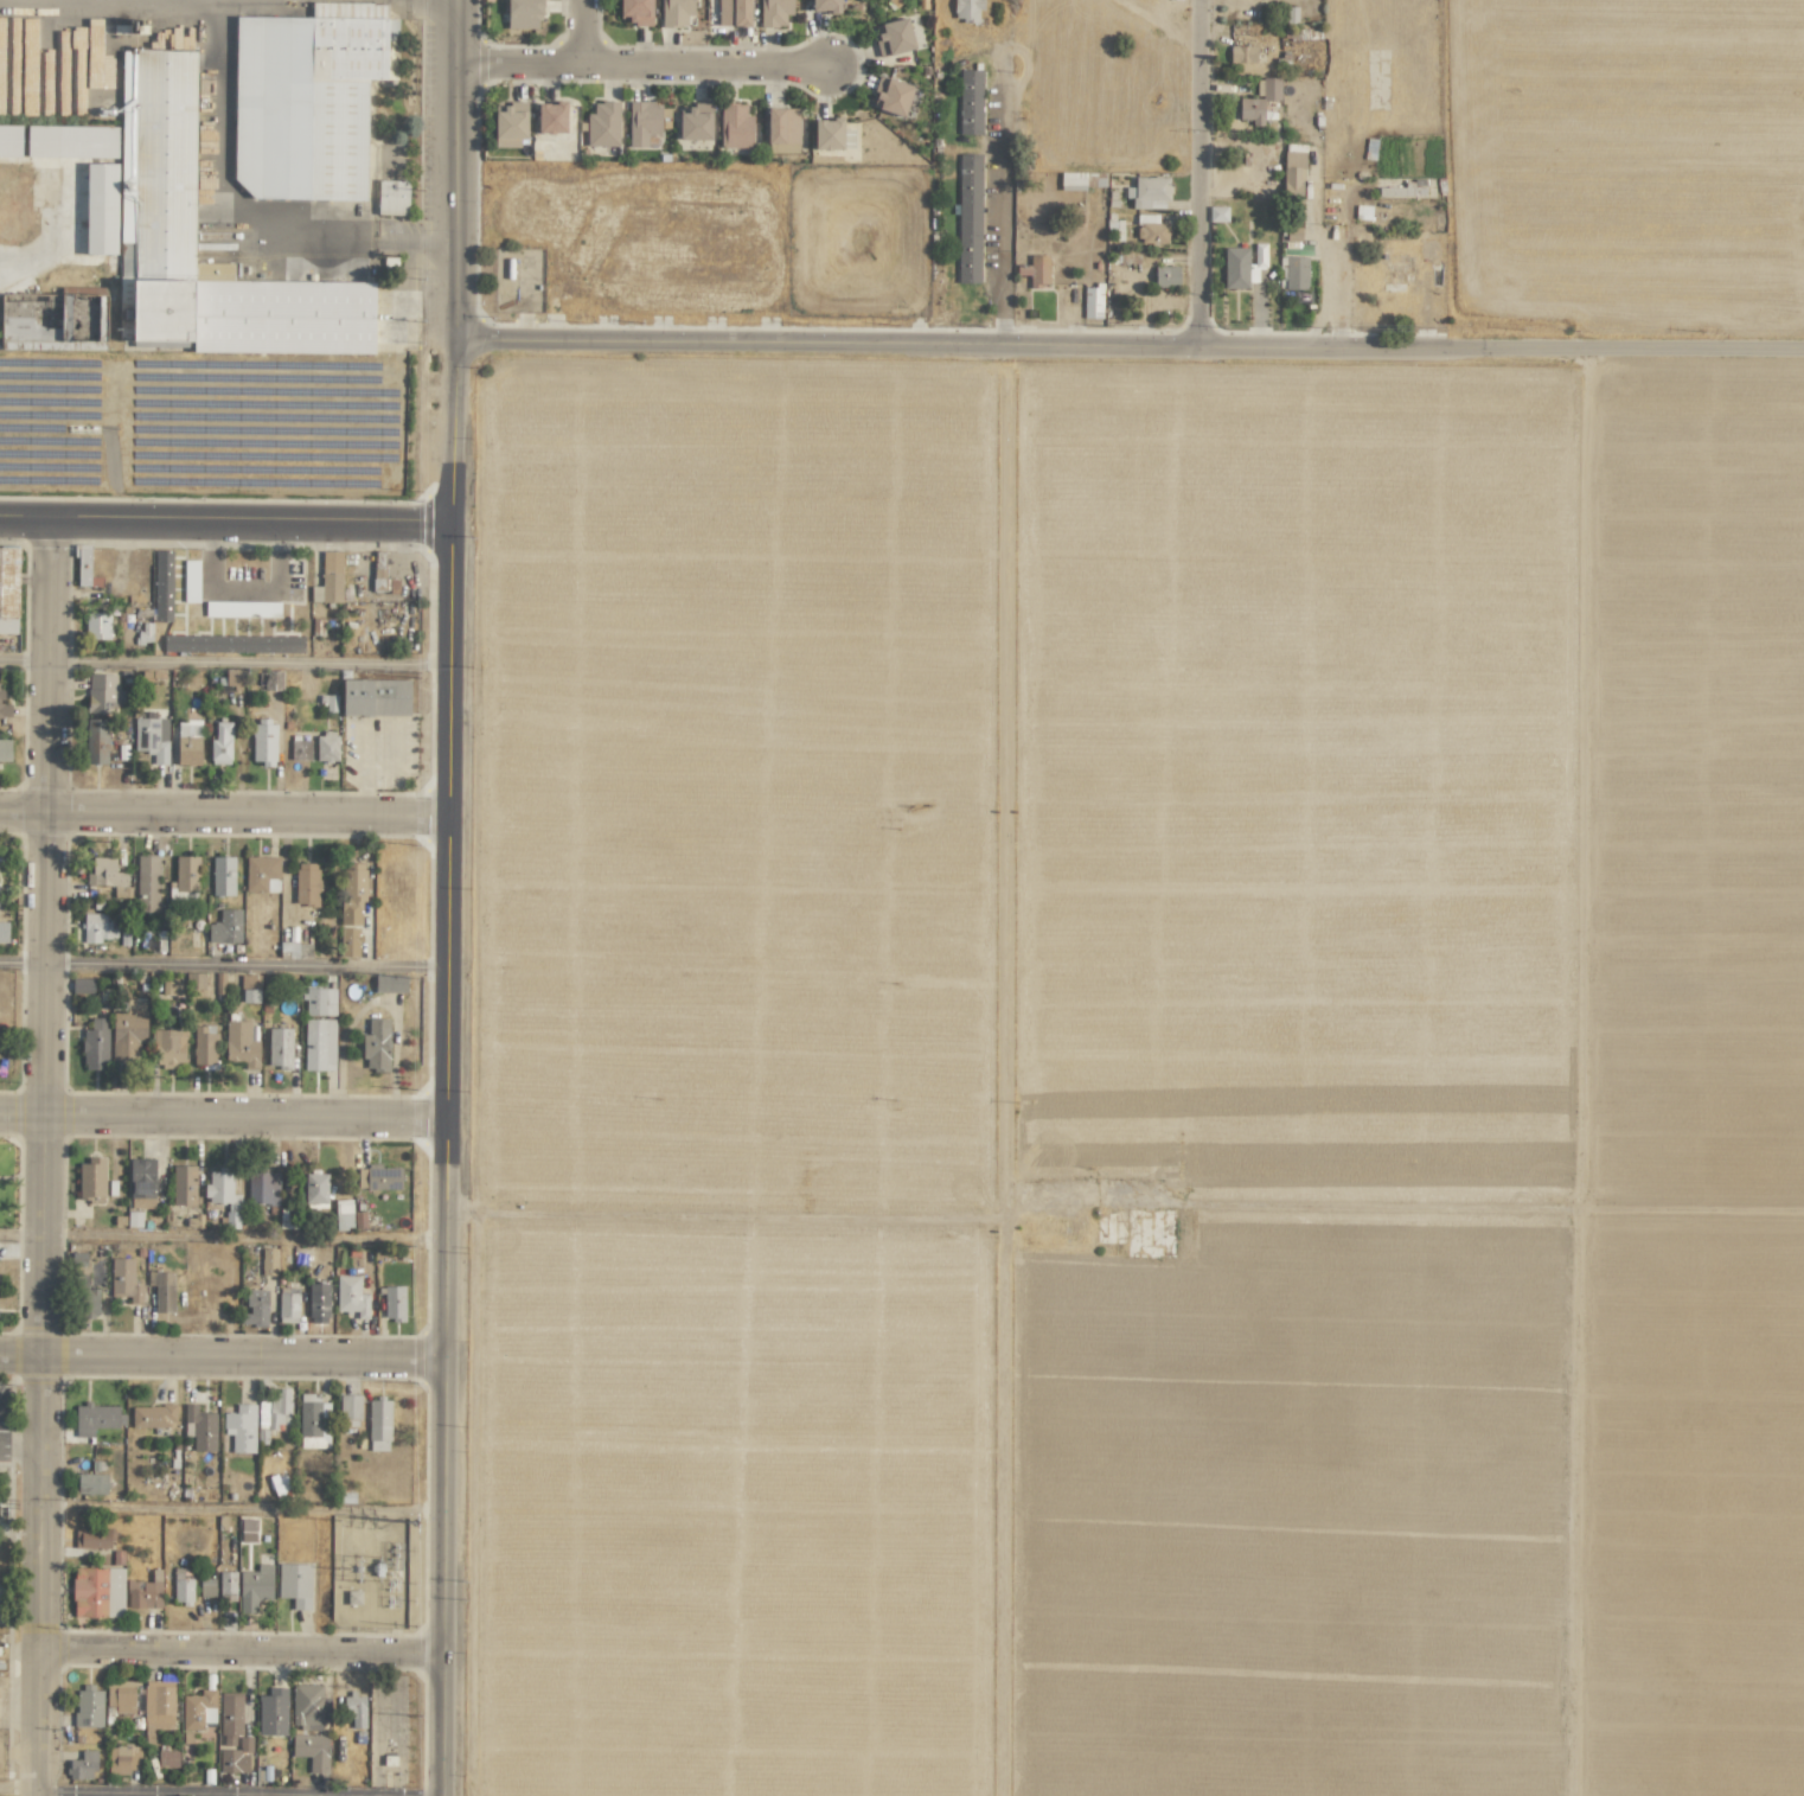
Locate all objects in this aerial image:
building: (825, 6)
building: (967, 9)
building: (634, 11)
building: (674, 12)
building: (733, 12)
building: (774, 12)
building: (523, 14)
road: (587, 34)
building: (894, 38)
building: (1242, 53)
building: (36, 65)
road: (640, 70)
building: (0, 77)
building: (1267, 88)
building: (891, 96)
building: (306, 101)
building: (970, 102)
building: (1250, 110)
building: (550, 117)
building: (642, 121)
building: (693, 122)
building: (602, 124)
building: (735, 126)
building: (508, 127)
building: (782, 129)
building: (832, 134)
building: (9, 140)
building: (71, 141)
building: (158, 147)
building: (1292, 174)
road: (222, 175)
road: (1000, 179)
building: (1071, 180)
road: (1205, 183)
building: (1150, 192)
building: (392, 197)
building: (101, 207)
building: (1217, 213)
building: (968, 218)
building: (1150, 230)
building: (1292, 234)
building: (1259, 255)
road: (1332, 256)
building: (1235, 268)
building: (1035, 269)
building: (1293, 273)
building: (1165, 276)
building: (1092, 301)
building: (33, 322)
road: (1131, 363)
road: (226, 517)
building: (84, 567)
building: (328, 579)
building: (191, 581)
building: (383, 581)
building: (162, 586)
building: (8, 589)
road: (242, 590)
building: (242, 608)
building: (97, 626)
building: (232, 644)
road: (26, 659)
road: (255, 661)
building: (273, 679)
building: (102, 694)
building: (375, 697)
building: (4, 707)
building: (152, 737)
building: (96, 741)
building: (188, 742)
building: (263, 742)
building: (220, 743)
building: (326, 747)
building: (300, 749)
building: (5, 750)
road: (228, 813)
building: (186, 874)
building: (262, 874)
building: (108, 876)
building: (223, 876)
building: (147, 883)
building: (306, 883)
road: (455, 897)
building: (225, 927)
building: (96, 928)
building: (4, 932)
road: (228, 966)
building: (390, 983)
building: (82, 985)
building: (171, 988)
building: (319, 1001)
building: (128, 1031)
building: (95, 1044)
building: (204, 1044)
building: (241, 1044)
building: (319, 1044)
building: (376, 1044)
building: (168, 1048)
building: (280, 1048)
road: (224, 1120)
road: (46, 1156)
building: (379, 1177)
building: (91, 1180)
building: (141, 1183)
building: (184, 1184)
building: (262, 1188)
building: (315, 1189)
building: (223, 1196)
building: (343, 1214)
building: (287, 1219)
building: (268, 1261)
building: (124, 1280)
building: (161, 1290)
building: (351, 1296)
building: (87, 1302)
building: (318, 1303)
building: (392, 1303)
building: (288, 1306)
building: (255, 1308)
road: (223, 1364)
building: (348, 1410)
building: (273, 1413)
building: (153, 1415)
building: (96, 1418)
building: (313, 1421)
building: (378, 1425)
building: (241, 1427)
building: (199, 1429)
road: (21, 1453)
building: (91, 1483)
road: (243, 1507)
building: (247, 1529)
building: (92, 1538)
building: (226, 1584)
building: (295, 1584)
building: (206, 1587)
building: (254, 1587)
building: (181, 1589)
building: (97, 1592)
building: (145, 1592)
building: (1, 1602)
road: (239, 1649)
building: (120, 1695)
building: (89, 1706)
building: (308, 1706)
building: (158, 1707)
building: (198, 1709)
building: (354, 1709)
building: (273, 1712)
building: (232, 1736)
building: (312, 1751)
building: (167, 1758)
building: (122, 1759)
building: (83, 1766)
road: (21, 1784)
road: (241, 1794)

